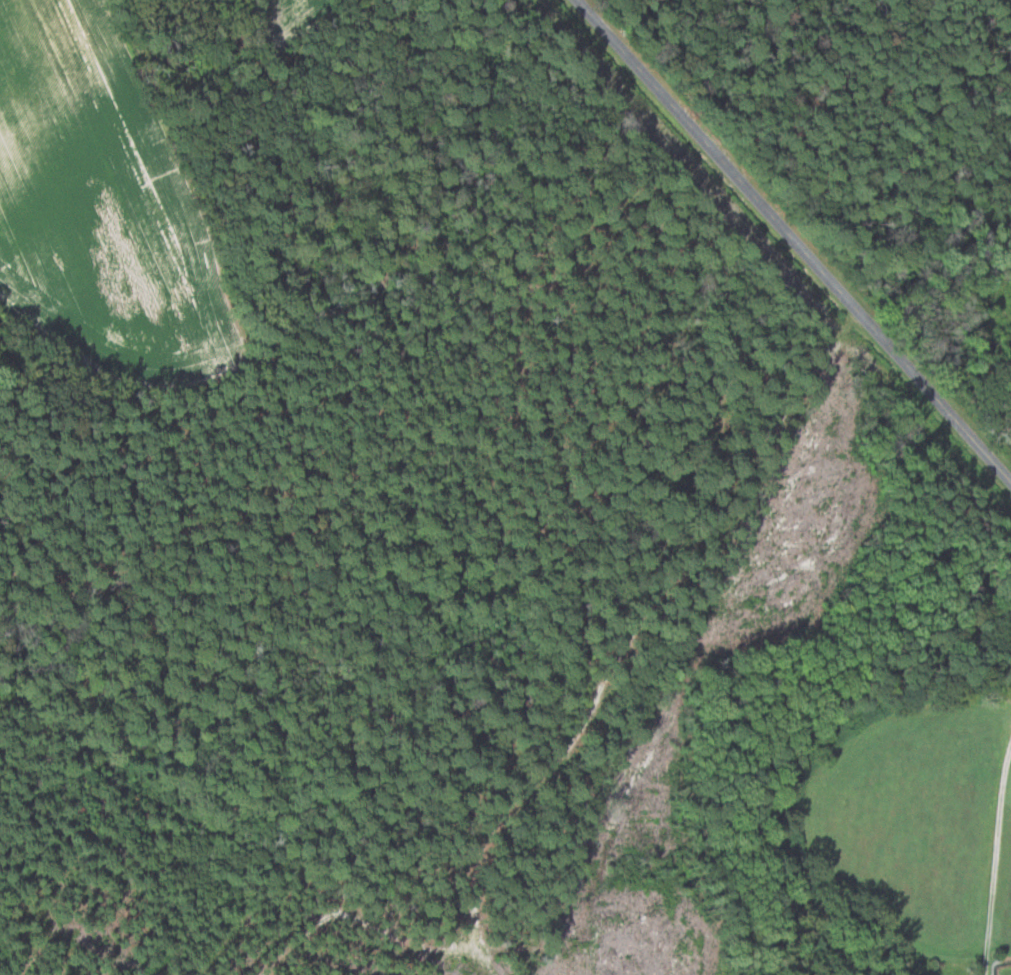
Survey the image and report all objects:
road: (793, 239)

